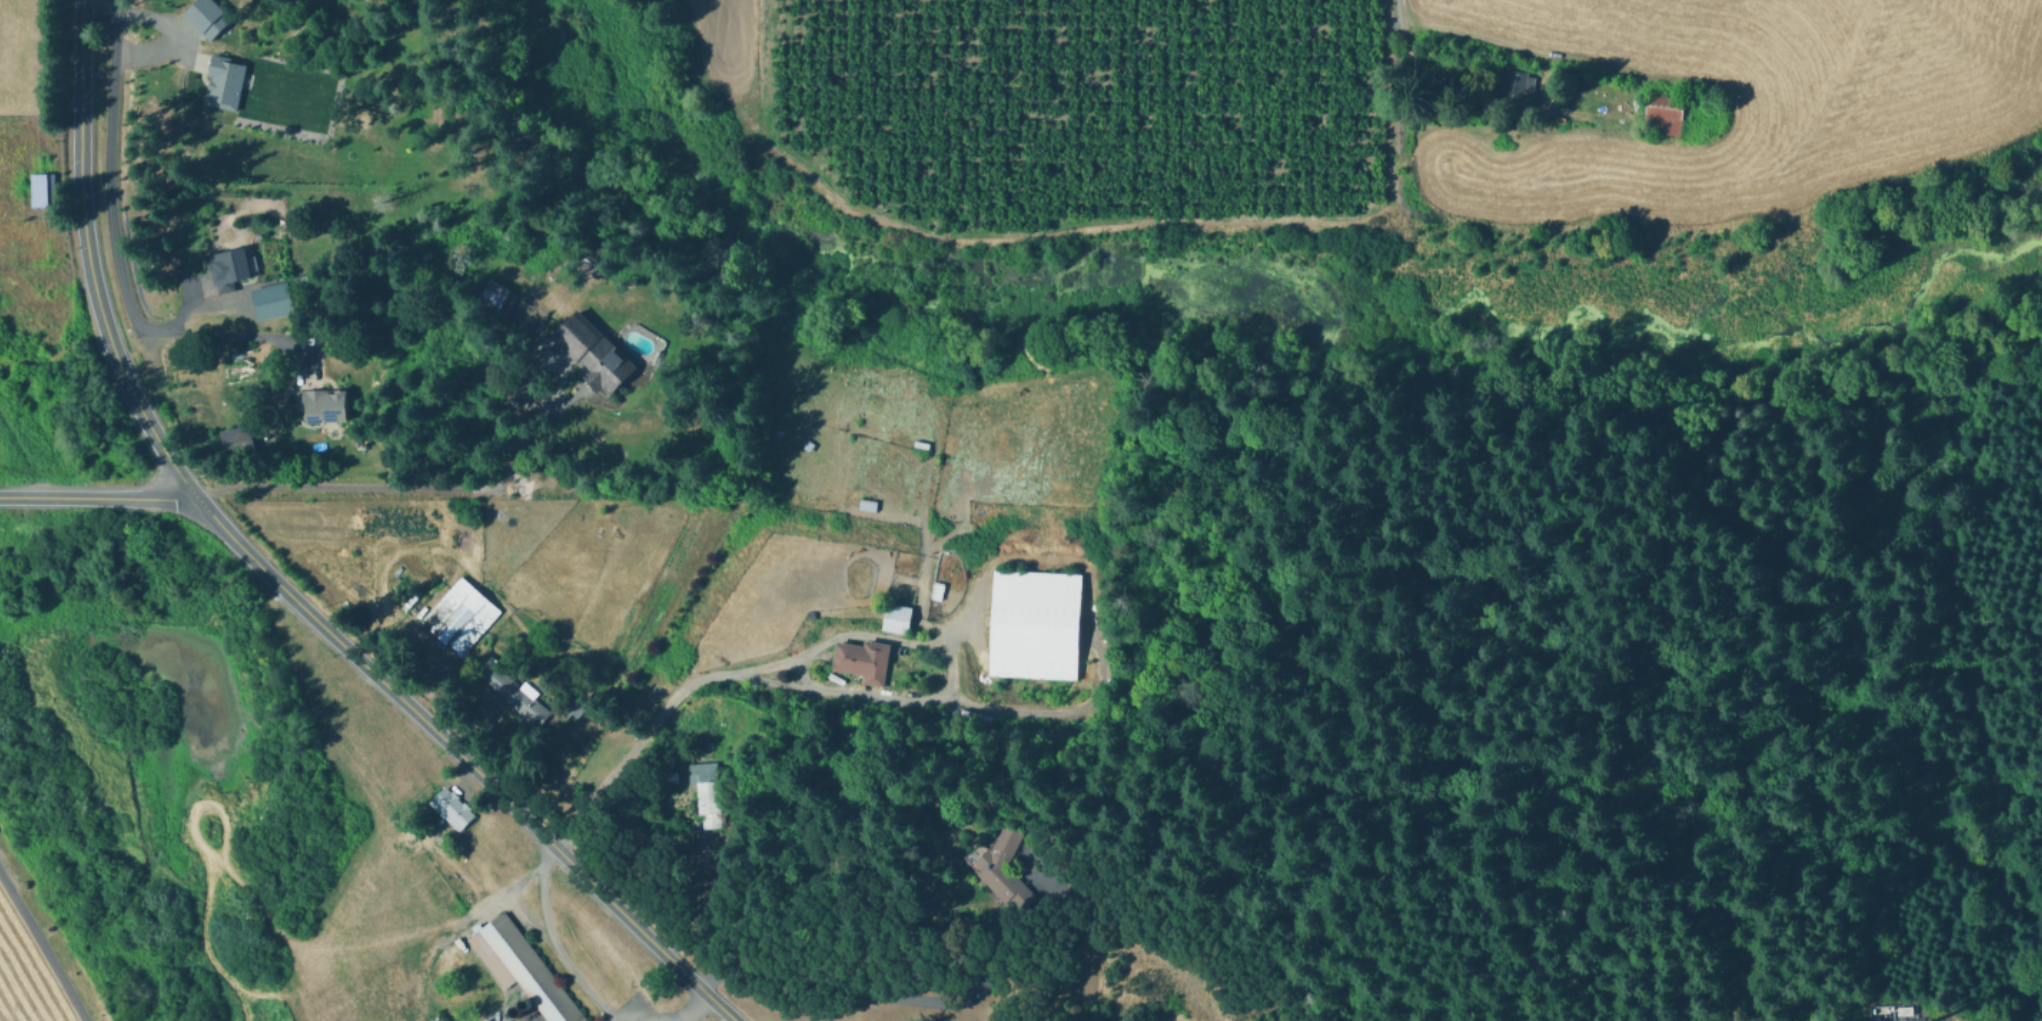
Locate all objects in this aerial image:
road: (1394, 8)
building: (206, 17)
road: (163, 26)
road: (1501, 54)
building: (222, 82)
building: (1519, 82)
building: (1667, 114)
building: (45, 189)
road: (108, 199)
road: (1090, 221)
road: (89, 258)
building: (595, 259)
building: (230, 270)
building: (500, 300)
building: (272, 303)
road: (239, 333)
building: (596, 353)
building: (320, 408)
building: (234, 436)
road: (392, 486)
road: (96, 497)
building: (868, 505)
building: (459, 614)
building: (898, 618)
building: (1035, 621)
road: (868, 633)
building: (864, 660)
road: (776, 681)
building: (518, 695)
road: (464, 757)
building: (710, 792)
building: (454, 809)
building: (1009, 869)
road: (506, 888)
road: (551, 942)
road: (43, 943)
road: (429, 961)
building: (522, 968)
road: (645, 990)
road: (850, 990)
road: (685, 1004)
building: (1907, 1010)
road: (527, 1019)

